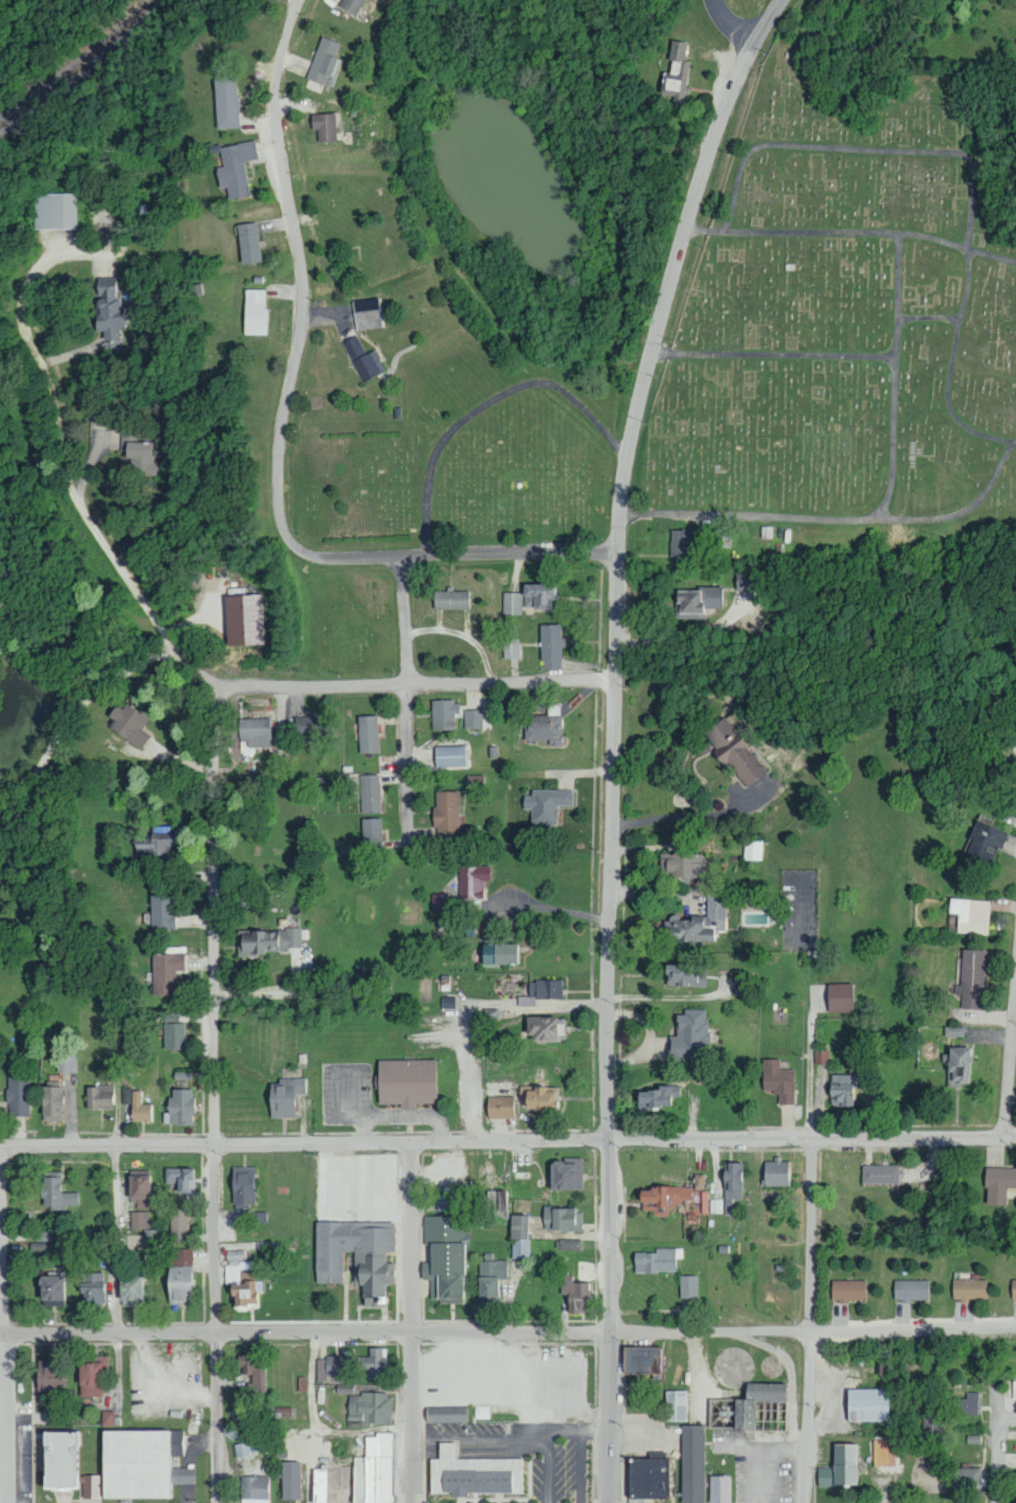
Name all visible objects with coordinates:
building: (351, 5)
road: (769, 17)
road: (722, 29)
building: (323, 60)
railway: (87, 69)
building: (675, 72)
building: (225, 102)
building: (323, 126)
building: (234, 167)
road: (609, 184)
building: (56, 211)
road: (851, 233)
building: (247, 242)
building: (107, 307)
building: (253, 311)
building: (365, 312)
park: (846, 313)
road: (301, 330)
building: (353, 346)
road: (773, 357)
building: (368, 365)
road: (897, 378)
road: (619, 390)
road: (488, 407)
road: (57, 430)
building: (132, 433)
building: (140, 456)
park: (462, 473)
road: (834, 517)
building: (680, 541)
road: (509, 553)
building: (748, 580)
building: (527, 597)
building: (449, 599)
building: (695, 601)
building: (243, 618)
building: (550, 645)
building: (510, 647)
road: (427, 682)
road: (221, 686)
road: (406, 695)
building: (443, 712)
building: (471, 718)
building: (128, 723)
building: (544, 725)
building: (306, 726)
building: (255, 731)
building: (367, 733)
building: (733, 751)
building: (448, 755)
road: (610, 758)
building: (369, 793)
building: (545, 804)
building: (445, 813)
building: (370, 832)
building: (985, 839)
building: (152, 844)
building: (753, 849)
building: (680, 864)
building: (472, 880)
road: (545, 908)
building: (160, 910)
building: (970, 915)
building: (697, 921)
building: (268, 940)
building: (497, 953)
road: (295, 965)
building: (165, 971)
building: (683, 975)
building: (971, 979)
building: (743, 981)
building: (839, 997)
road: (669, 998)
building: (447, 1002)
building: (491, 1013)
building: (545, 1027)
building: (953, 1031)
building: (688, 1034)
building: (173, 1035)
building: (66, 1063)
building: (181, 1074)
building: (777, 1080)
building: (404, 1082)
road: (1011, 1082)
building: (841, 1089)
building: (17, 1094)
building: (101, 1096)
building: (657, 1096)
building: (284, 1097)
building: (539, 1097)
building: (49, 1101)
building: (179, 1106)
building: (499, 1107)
building: (140, 1108)
road: (508, 1144)
road: (213, 1172)
building: (564, 1173)
building: (776, 1173)
building: (879, 1174)
building: (181, 1178)
building: (732, 1180)
building: (699, 1181)
building: (998, 1183)
building: (242, 1185)
building: (54, 1191)
building: (139, 1197)
building: (448, 1199)
building: (498, 1199)
building: (673, 1201)
building: (716, 1205)
building: (562, 1219)
building: (179, 1223)
building: (519, 1236)
road: (120, 1240)
building: (153, 1240)
building: (570, 1244)
building: (445, 1254)
building: (354, 1255)
building: (657, 1260)
building: (180, 1274)
building: (490, 1277)
building: (239, 1280)
building: (688, 1287)
building: (93, 1288)
building: (910, 1289)
building: (969, 1289)
building: (1013, 1289)
building: (50, 1290)
building: (130, 1290)
building: (847, 1290)
building: (574, 1294)
road: (811, 1320)
road: (3, 1324)
road: (415, 1324)
road: (508, 1333)
building: (640, 1359)
building: (372, 1361)
building: (331, 1367)
building: (253, 1370)
building: (90, 1374)
building: (49, 1377)
building: (1013, 1390)
building: (967, 1404)
building: (675, 1405)
building: (867, 1405)
building: (369, 1408)
building: (445, 1414)
building: (742, 1415)
road: (1011, 1415)
building: (108, 1417)
building: (931, 1426)
building: (242, 1449)
building: (883, 1453)
building: (56, 1459)
road: (1005, 1459)
building: (137, 1465)
building: (838, 1467)
building: (372, 1471)
building: (702, 1471)
building: (471, 1473)
building: (646, 1478)
building: (966, 1478)
building: (290, 1480)
building: (319, 1485)
building: (254, 1487)

